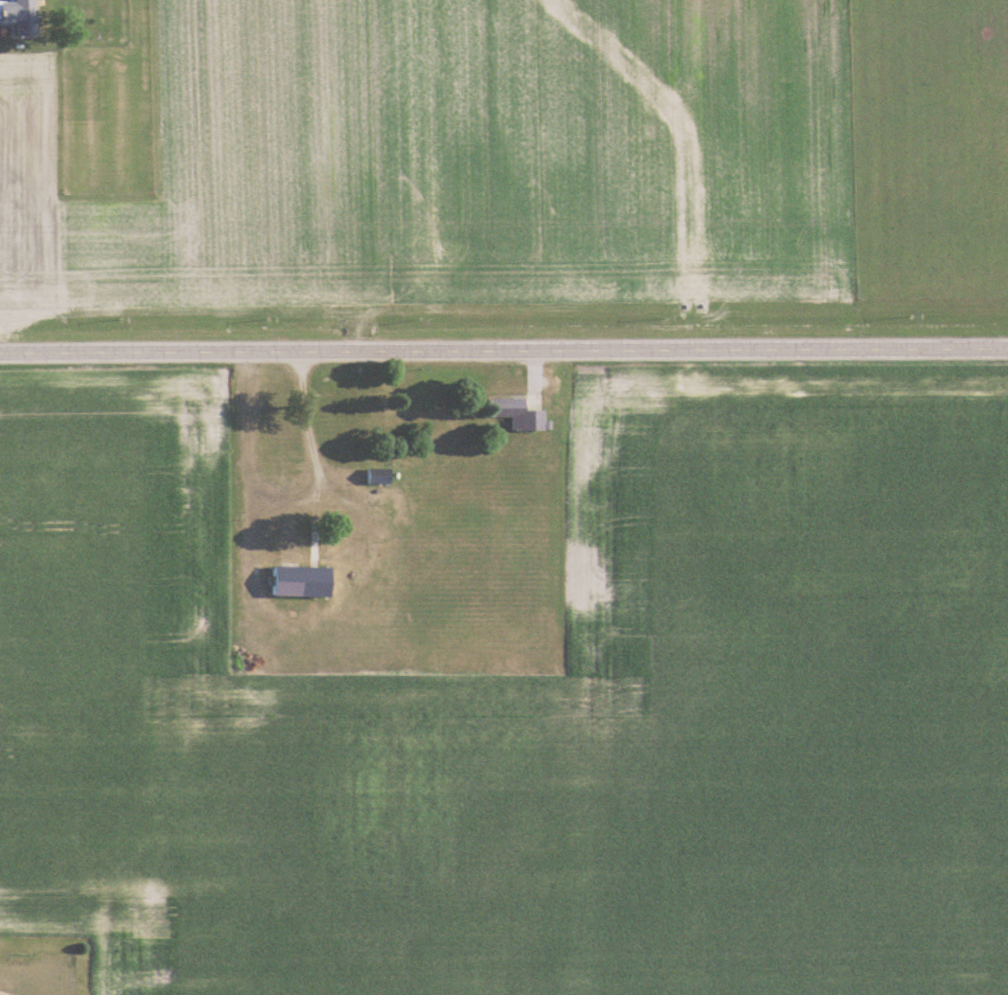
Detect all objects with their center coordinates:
building: (23, 16)
road: (503, 350)
building: (517, 414)
road: (305, 437)
building: (379, 477)
building: (302, 582)

